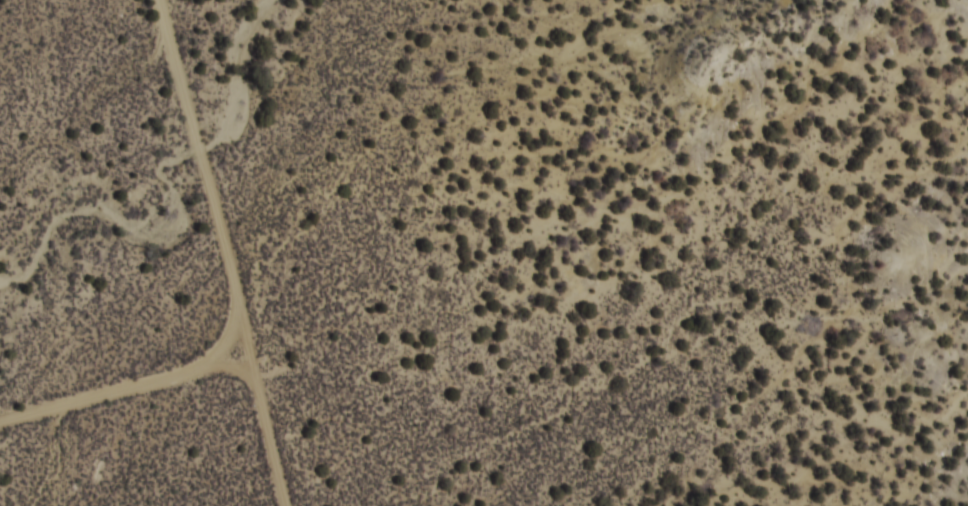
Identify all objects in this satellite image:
road: (194, 255)
road: (108, 383)

